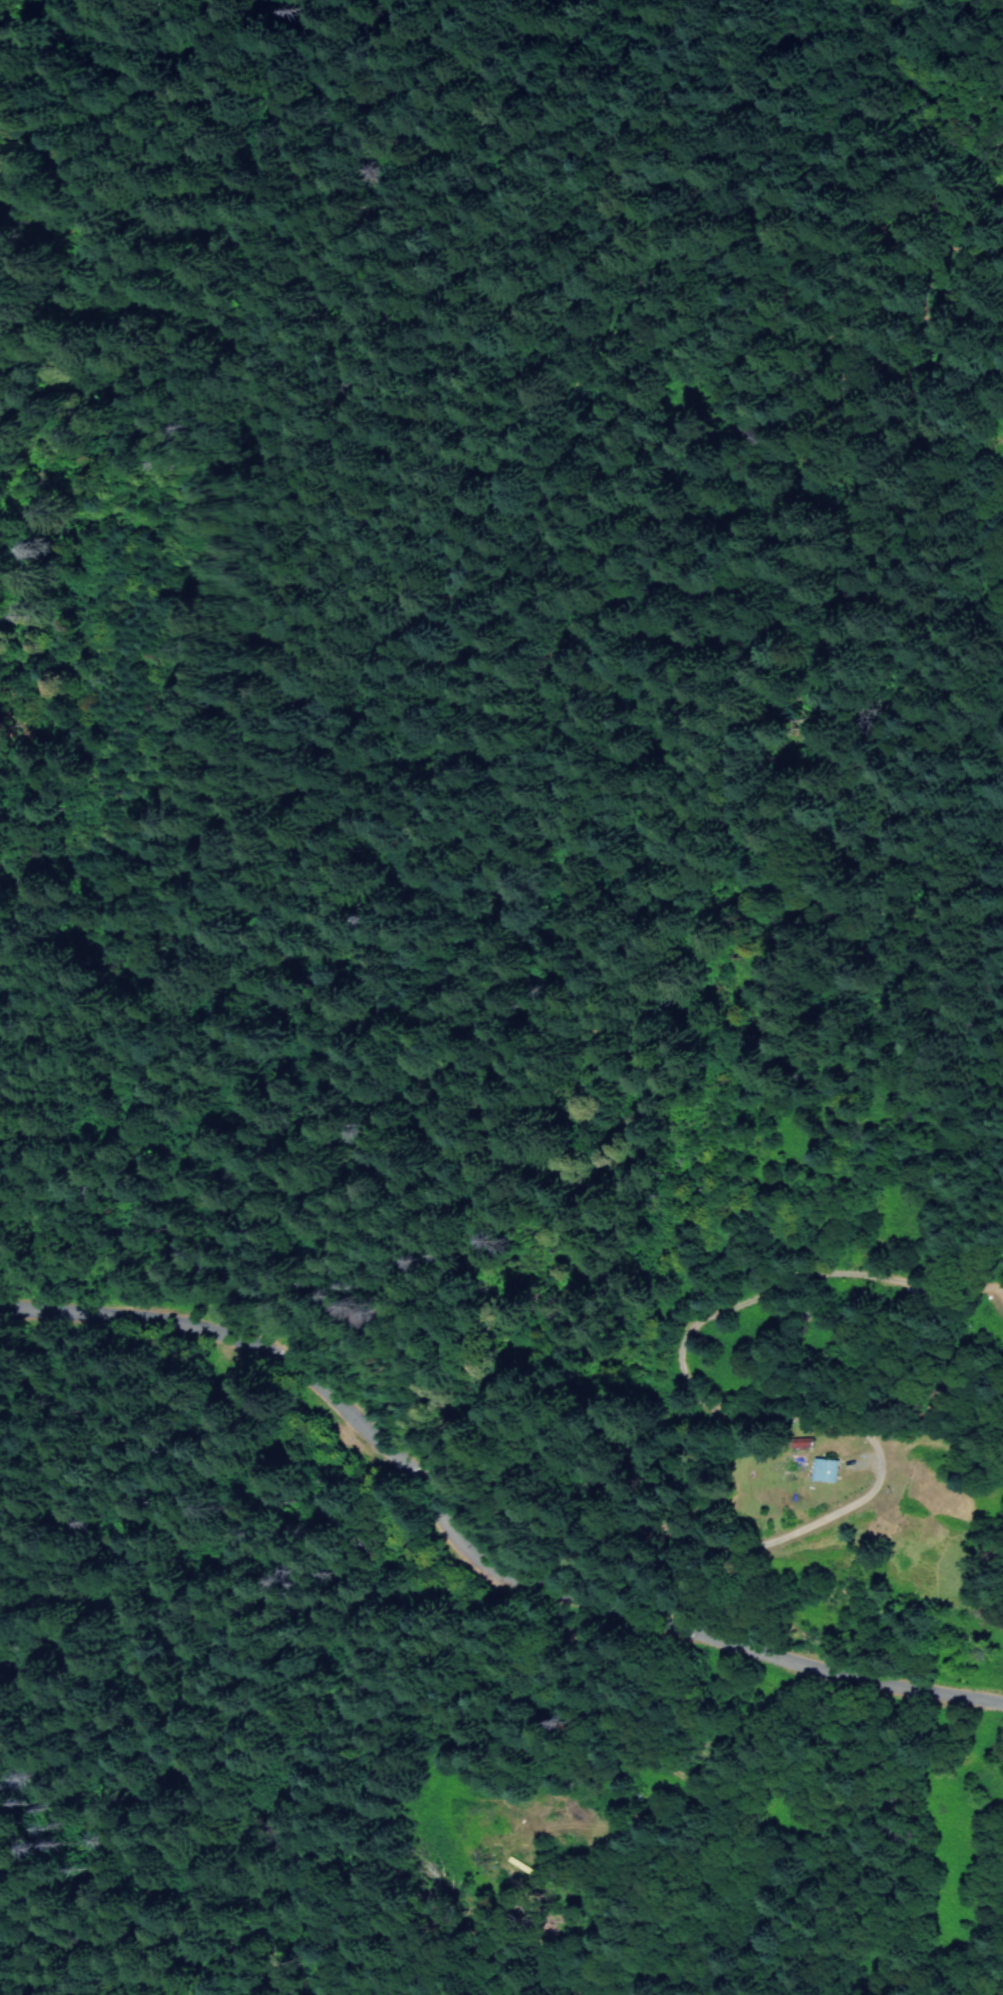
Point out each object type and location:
building: (821, 1471)
road: (759, 1544)
road: (468, 1551)

